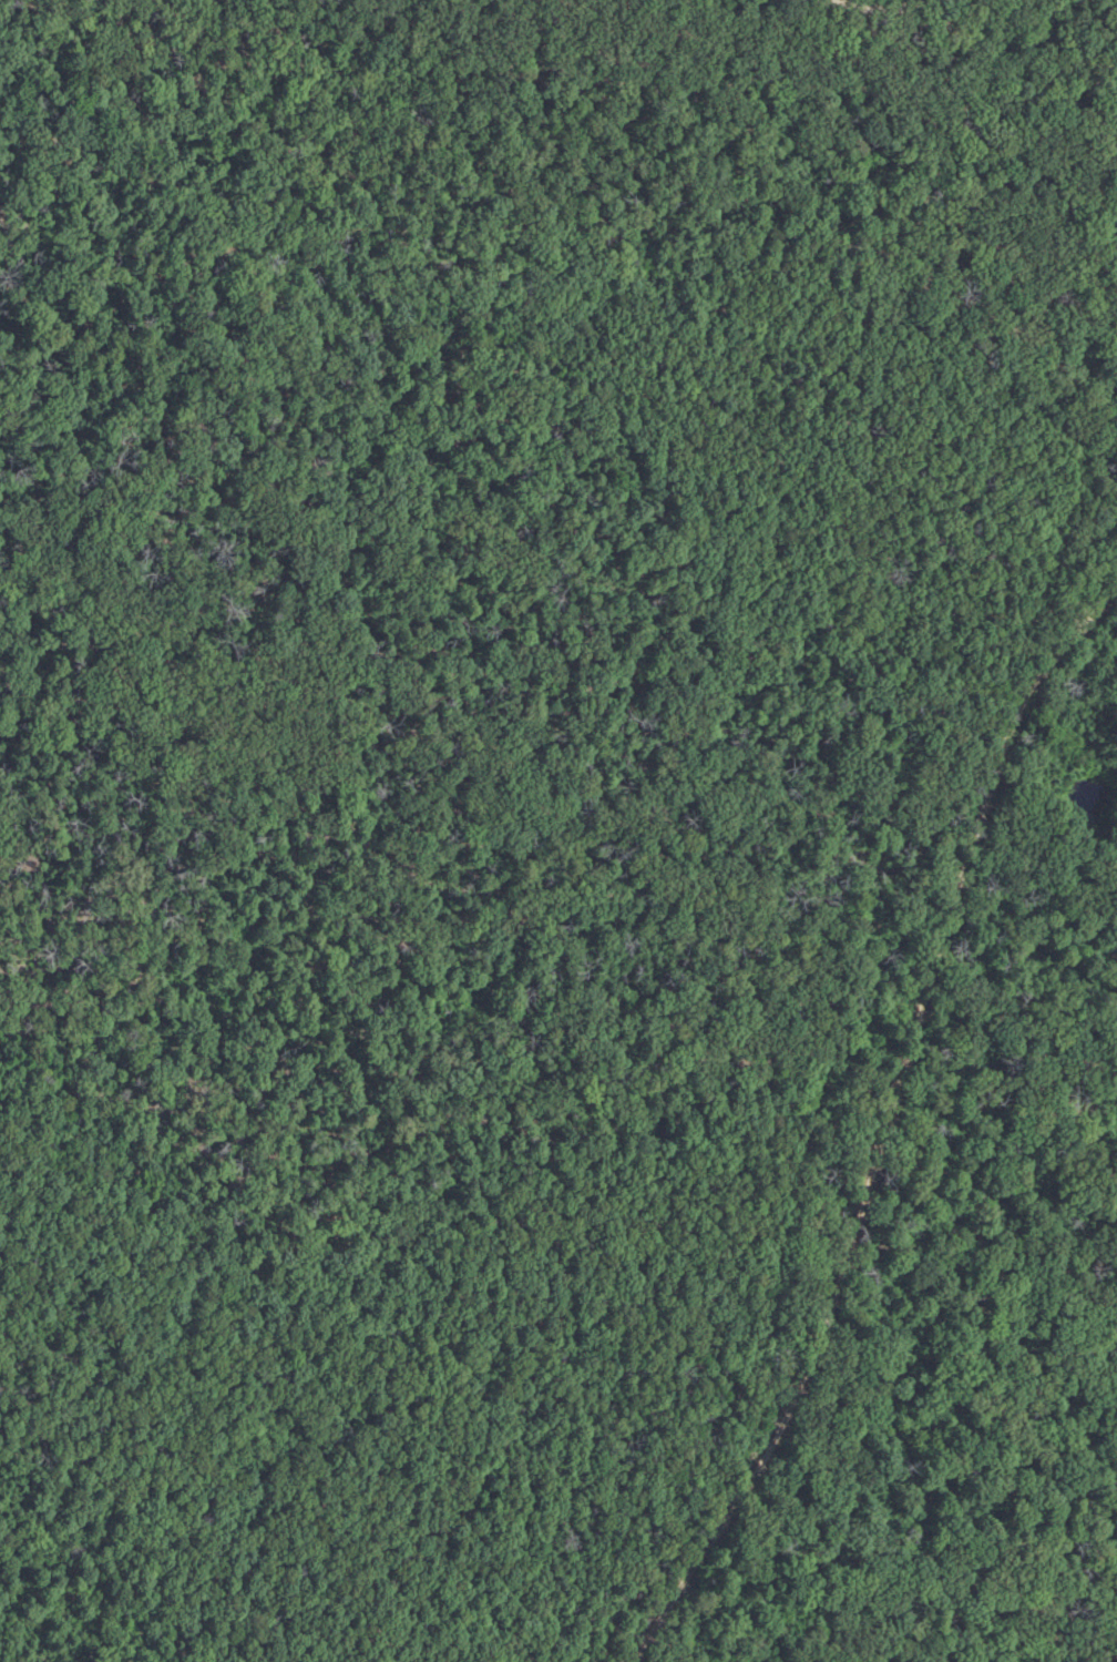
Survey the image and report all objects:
road: (883, 6)
road: (884, 1131)

